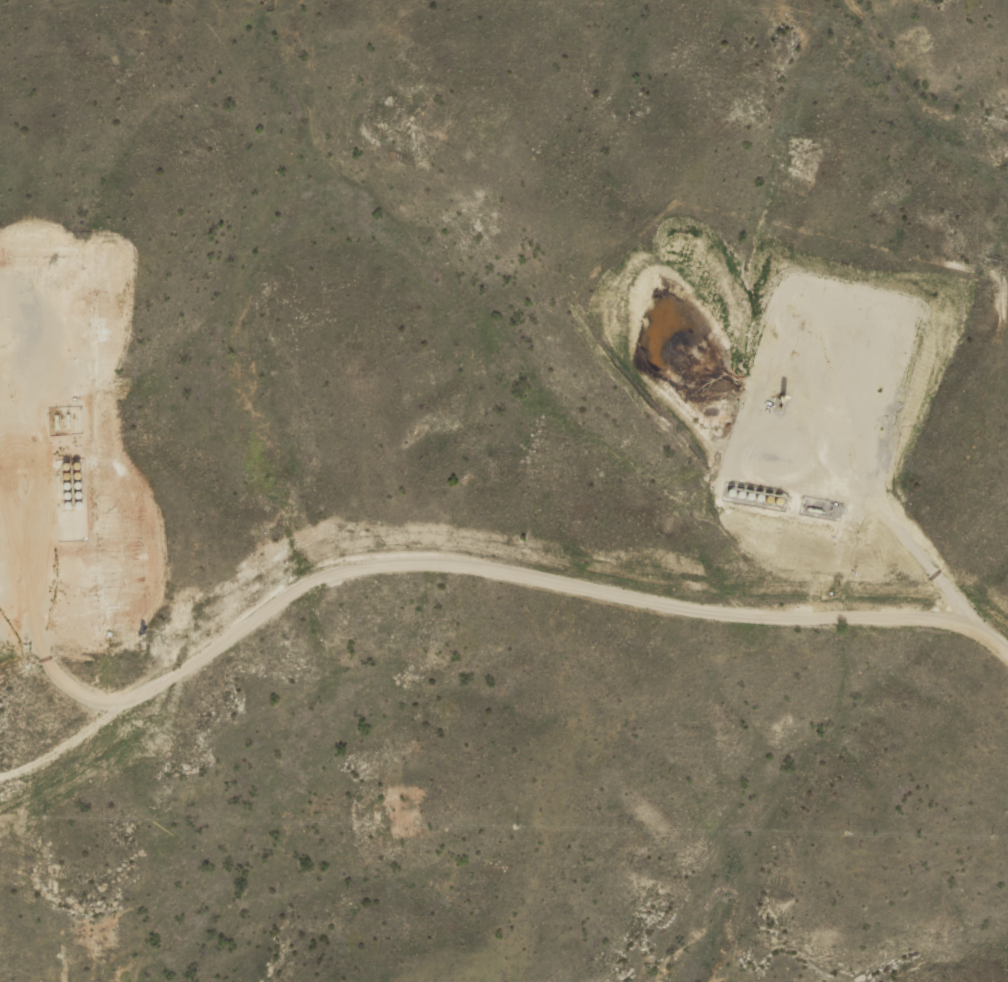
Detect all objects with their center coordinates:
road: (483, 564)

